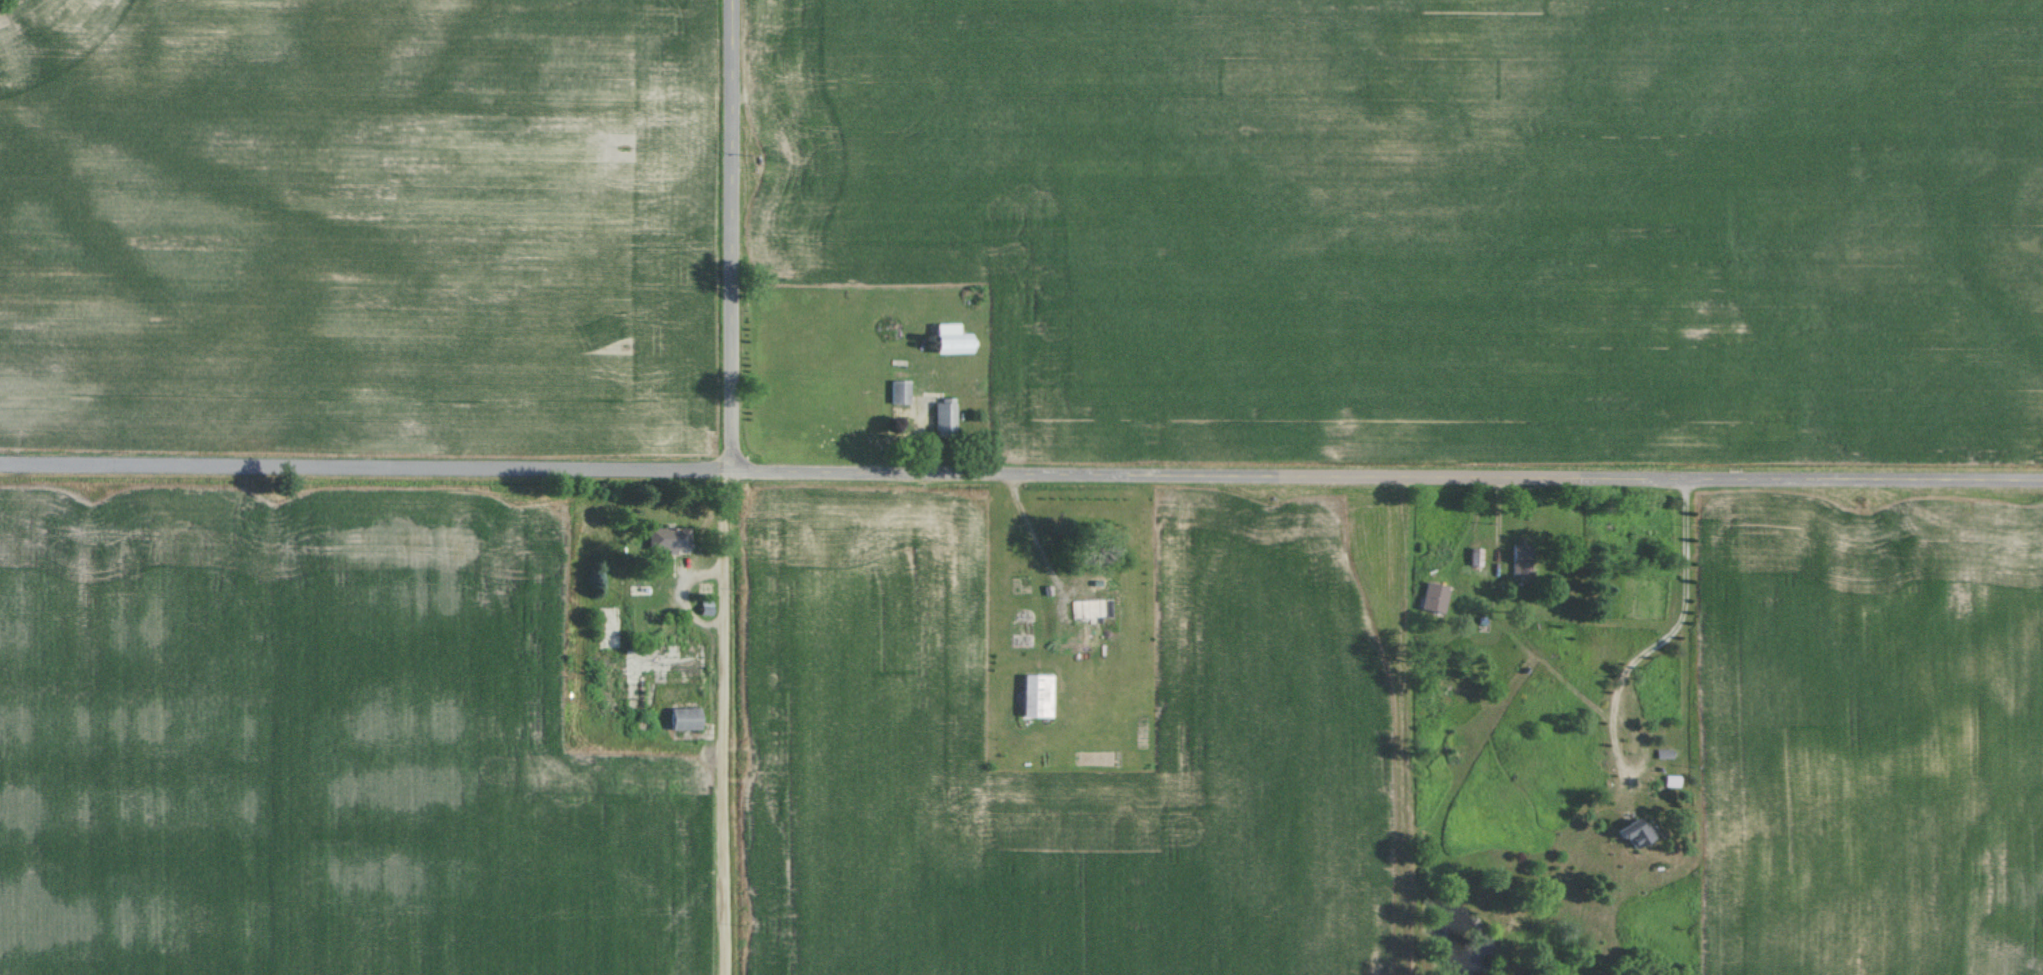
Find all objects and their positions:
building: (902, 392)
building: (947, 419)
road: (1021, 471)
road: (733, 487)
building: (671, 539)
building: (1521, 560)
building: (1437, 597)
building: (1095, 610)
road: (1659, 638)
building: (612, 662)
building: (1039, 696)
building: (686, 718)
building: (1633, 831)

